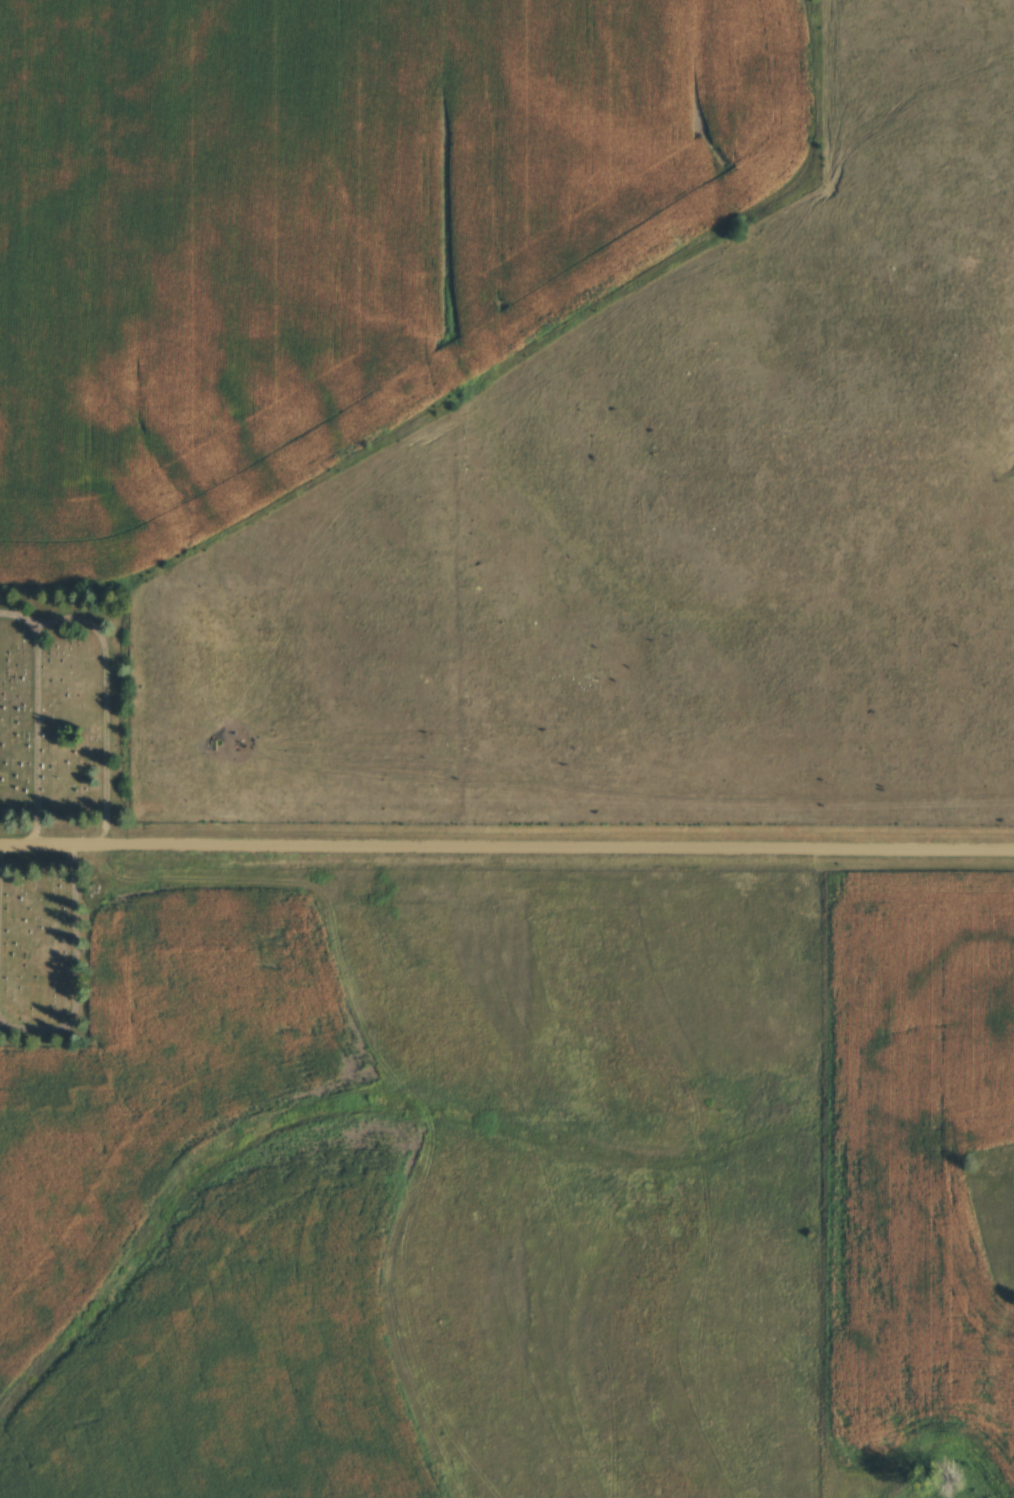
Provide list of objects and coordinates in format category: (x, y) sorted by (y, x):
road: (101, 685)
road: (31, 730)
road: (507, 843)

